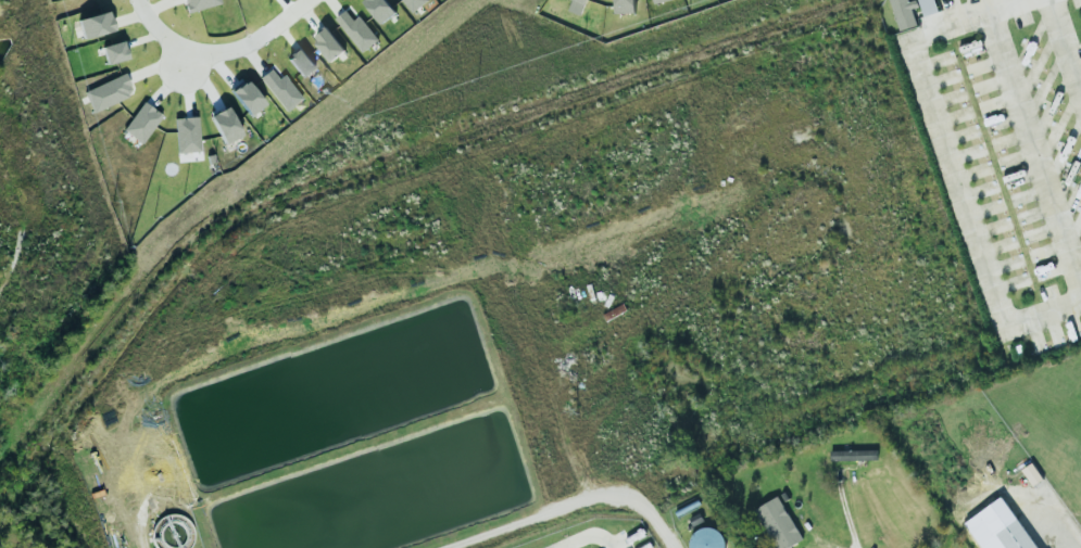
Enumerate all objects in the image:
building: (656, 0)
parking lot: (947, 2)
parking lot: (1076, 2)
building: (413, 3)
building: (198, 4)
road: (159, 5)
road: (286, 5)
road: (334, 5)
building: (575, 5)
building: (623, 5)
building: (926, 5)
building: (379, 9)
building: (902, 12)
road: (307, 16)
road: (128, 17)
parking lot: (1021, 18)
building: (93, 24)
road: (158, 29)
building: (355, 29)
street lamp: (973, 29)
street lamp: (243, 35)
road: (286, 35)
road: (142, 37)
road: (252, 40)
building: (327, 42)
building: (114, 51)
road: (1061, 53)
street lamp: (156, 54)
road: (254, 59)
building: (300, 62)
road: (159, 64)
road: (219, 67)
street lamp: (209, 74)
road: (169, 77)
road: (201, 79)
road: (188, 81)
building: (281, 89)
building: (106, 92)
building: (247, 97)
road: (933, 115)
building: (141, 122)
building: (224, 124)
building: (186, 135)
road: (1032, 155)
parking lot: (1047, 291)
road: (1043, 308)
building: (1017, 348)
building: (852, 454)
road: (564, 506)
building: (776, 523)
road: (843, 523)
building: (1019, 534)
road: (585, 536)
building: (705, 538)
storage tank: (705, 538)
road: (1060, 539)

